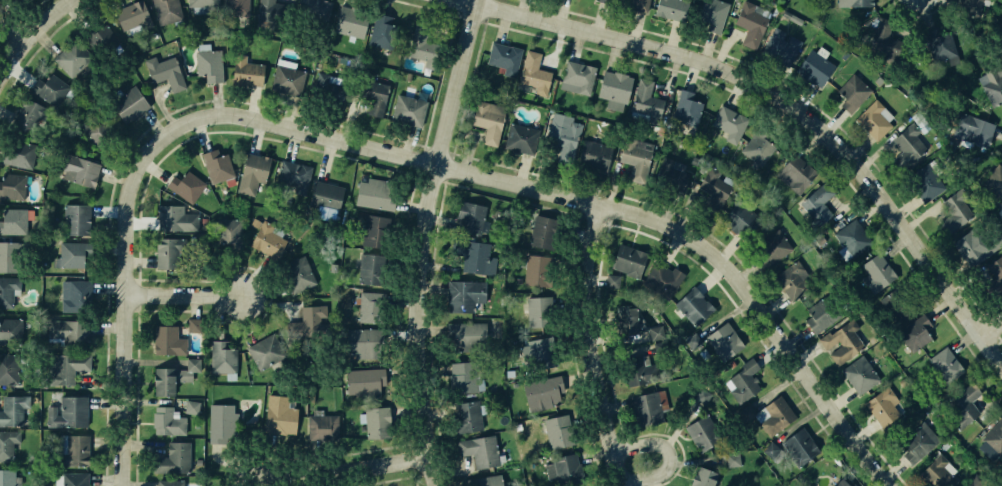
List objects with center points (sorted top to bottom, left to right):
building: (608, 0)
building: (636, 2)
building: (860, 2)
building: (201, 3)
building: (668, 4)
building: (233, 6)
building: (967, 7)
building: (167, 9)
building: (265, 11)
building: (312, 13)
building: (712, 14)
building: (752, 15)
building: (133, 16)
building: (351, 22)
road: (14, 23)
building: (99, 36)
road: (32, 37)
building: (384, 37)
building: (882, 37)
building: (783, 44)
building: (422, 45)
building: (938, 45)
building: (502, 56)
building: (72, 57)
building: (816, 64)
building: (209, 68)
building: (532, 69)
building: (244, 71)
building: (164, 72)
building: (575, 77)
building: (287, 80)
building: (992, 85)
building: (611, 86)
building: (49, 87)
building: (328, 89)
building: (370, 90)
building: (852, 92)
building: (645, 99)
road: (783, 100)
building: (130, 103)
building: (687, 108)
building: (407, 110)
building: (26, 116)
building: (486, 119)
building: (872, 121)
building: (730, 122)
building: (94, 127)
building: (972, 128)
building: (562, 135)
building: (518, 136)
building: (907, 143)
building: (757, 149)
building: (633, 152)
building: (20, 154)
building: (592, 155)
building: (77, 168)
building: (218, 168)
building: (795, 172)
building: (252, 173)
building: (671, 174)
building: (291, 175)
building: (923, 181)
building: (994, 182)
building: (184, 184)
building: (11, 186)
building: (711, 188)
building: (374, 196)
building: (324, 197)
road: (589, 199)
building: (814, 206)
building: (957, 210)
building: (471, 217)
building: (75, 218)
building: (175, 219)
building: (738, 219)
building: (11, 220)
building: (372, 231)
building: (542, 231)
building: (229, 232)
building: (819, 238)
building: (851, 238)
building: (266, 239)
road: (428, 240)
building: (772, 247)
building: (968, 249)
building: (165, 253)
building: (70, 254)
building: (5, 256)
building: (476, 259)
building: (626, 259)
building: (367, 269)
building: (876, 270)
building: (537, 271)
building: (296, 273)
building: (996, 273)
building: (792, 276)
building: (664, 279)
building: (613, 282)
building: (5, 292)
building: (69, 294)
road: (185, 294)
building: (464, 294)
road: (127, 302)
building: (898, 303)
building: (366, 305)
building: (693, 307)
building: (539, 312)
building: (823, 313)
building: (625, 318)
building: (307, 320)
building: (194, 325)
road: (993, 327)
building: (65, 331)
building: (8, 332)
building: (656, 333)
building: (915, 333)
building: (463, 336)
building: (168, 340)
building: (694, 341)
building: (842, 341)
building: (359, 342)
building: (724, 342)
road: (593, 345)
building: (265, 351)
building: (537, 352)
building: (220, 357)
building: (944, 365)
building: (7, 368)
building: (69, 369)
building: (637, 369)
building: (861, 374)
building: (463, 376)
building: (174, 377)
building: (743, 379)
building: (360, 383)
building: (542, 394)
building: (962, 404)
building: (884, 405)
building: (192, 406)
building: (645, 408)
building: (10, 411)
building: (67, 411)
building: (468, 415)
building: (774, 415)
building: (277, 416)
building: (167, 420)
building: (374, 422)
building: (219, 423)
building: (321, 424)
building: (555, 430)
building: (701, 432)
building: (994, 435)
building: (918, 442)
building: (8, 445)
building: (799, 447)
building: (71, 449)
building: (481, 452)
building: (772, 453)
building: (172, 458)
road: (635, 463)
road: (341, 465)
building: (560, 468)
building: (937, 472)
building: (703, 477)
building: (7, 478)
building: (73, 478)
building: (489, 481)
building: (169, 482)
building: (845, 483)
building: (974, 483)

